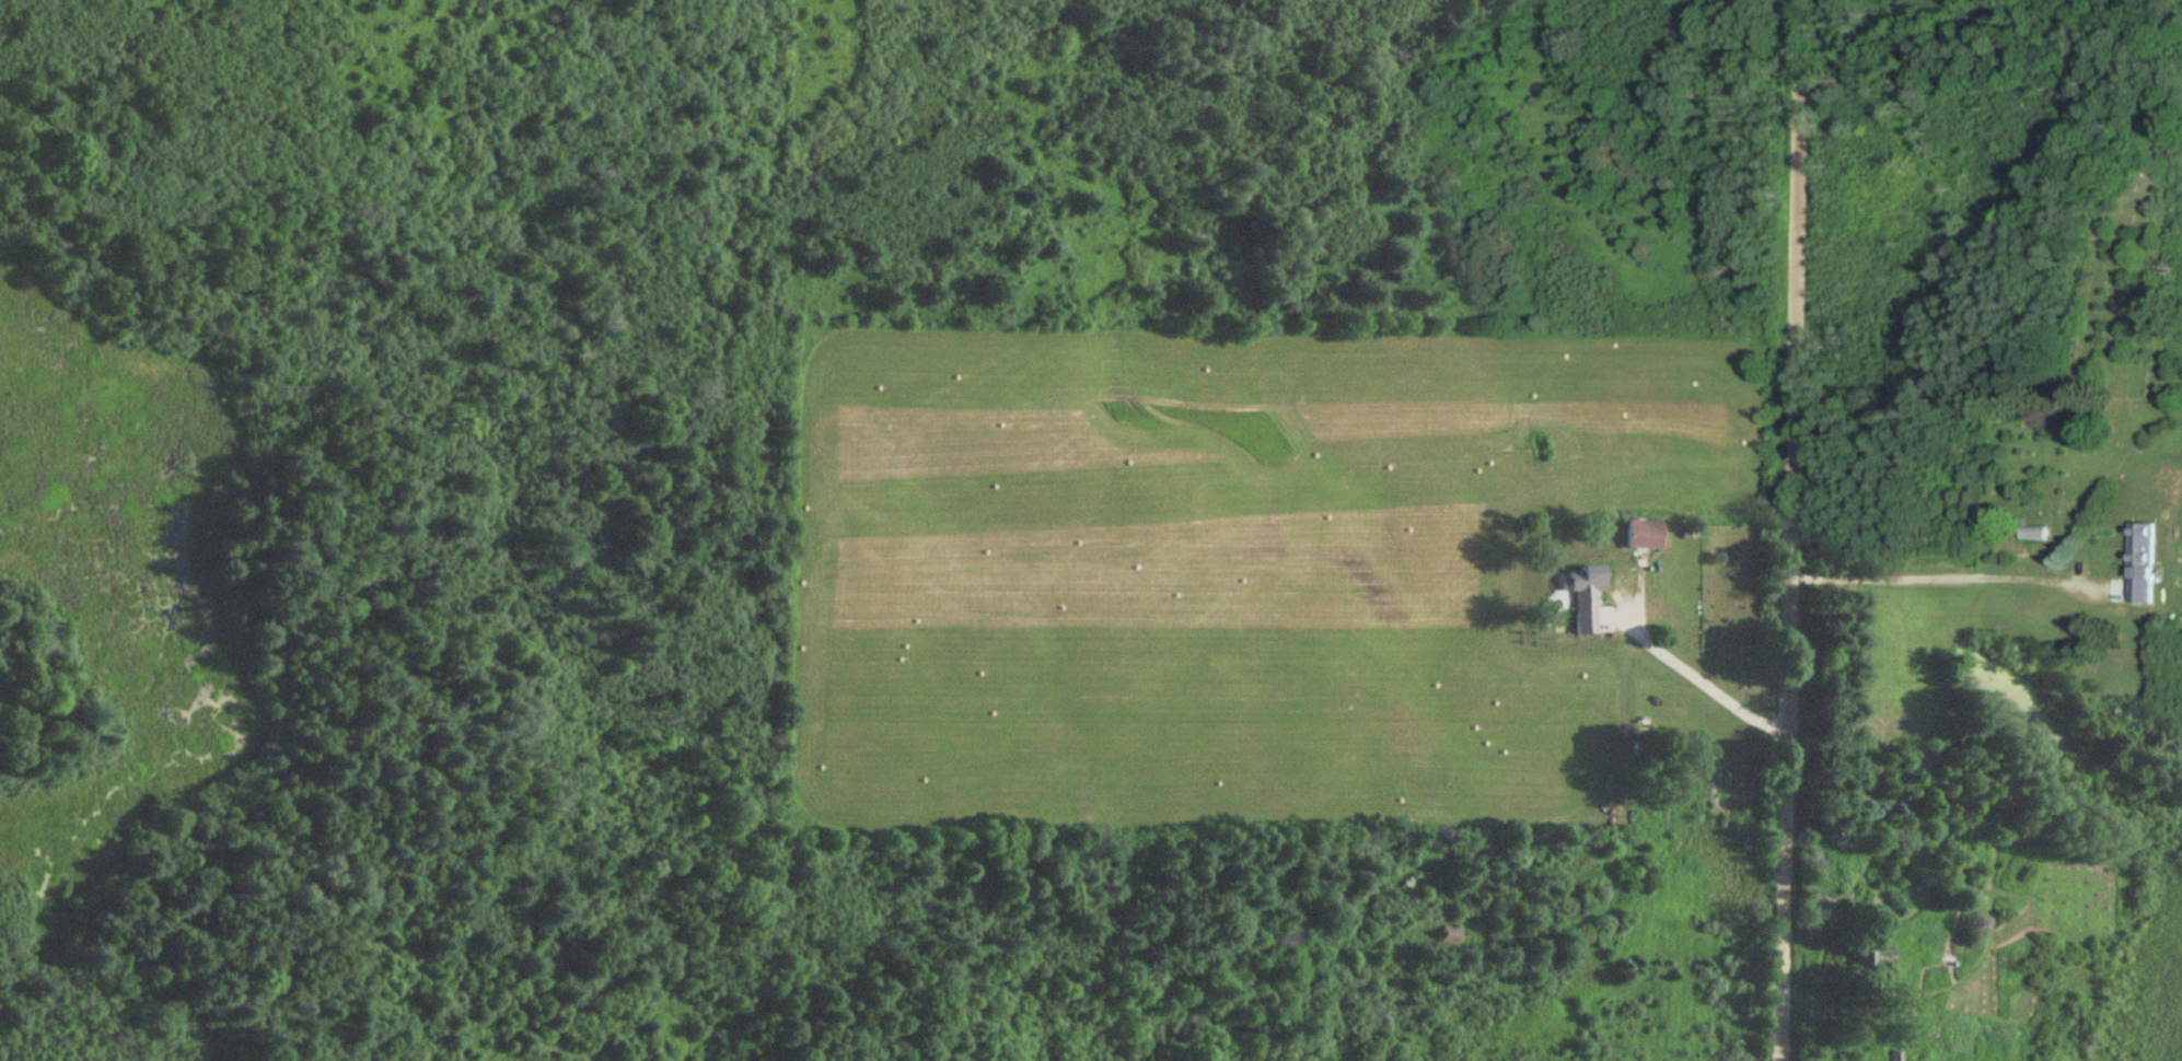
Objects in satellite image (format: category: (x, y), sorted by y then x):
road: (1794, 530)
building: (2035, 533)
building: (1644, 535)
building: (2143, 562)
building: (1583, 595)
building: (1933, 758)
building: (1450, 936)
building: (1894, 1056)

